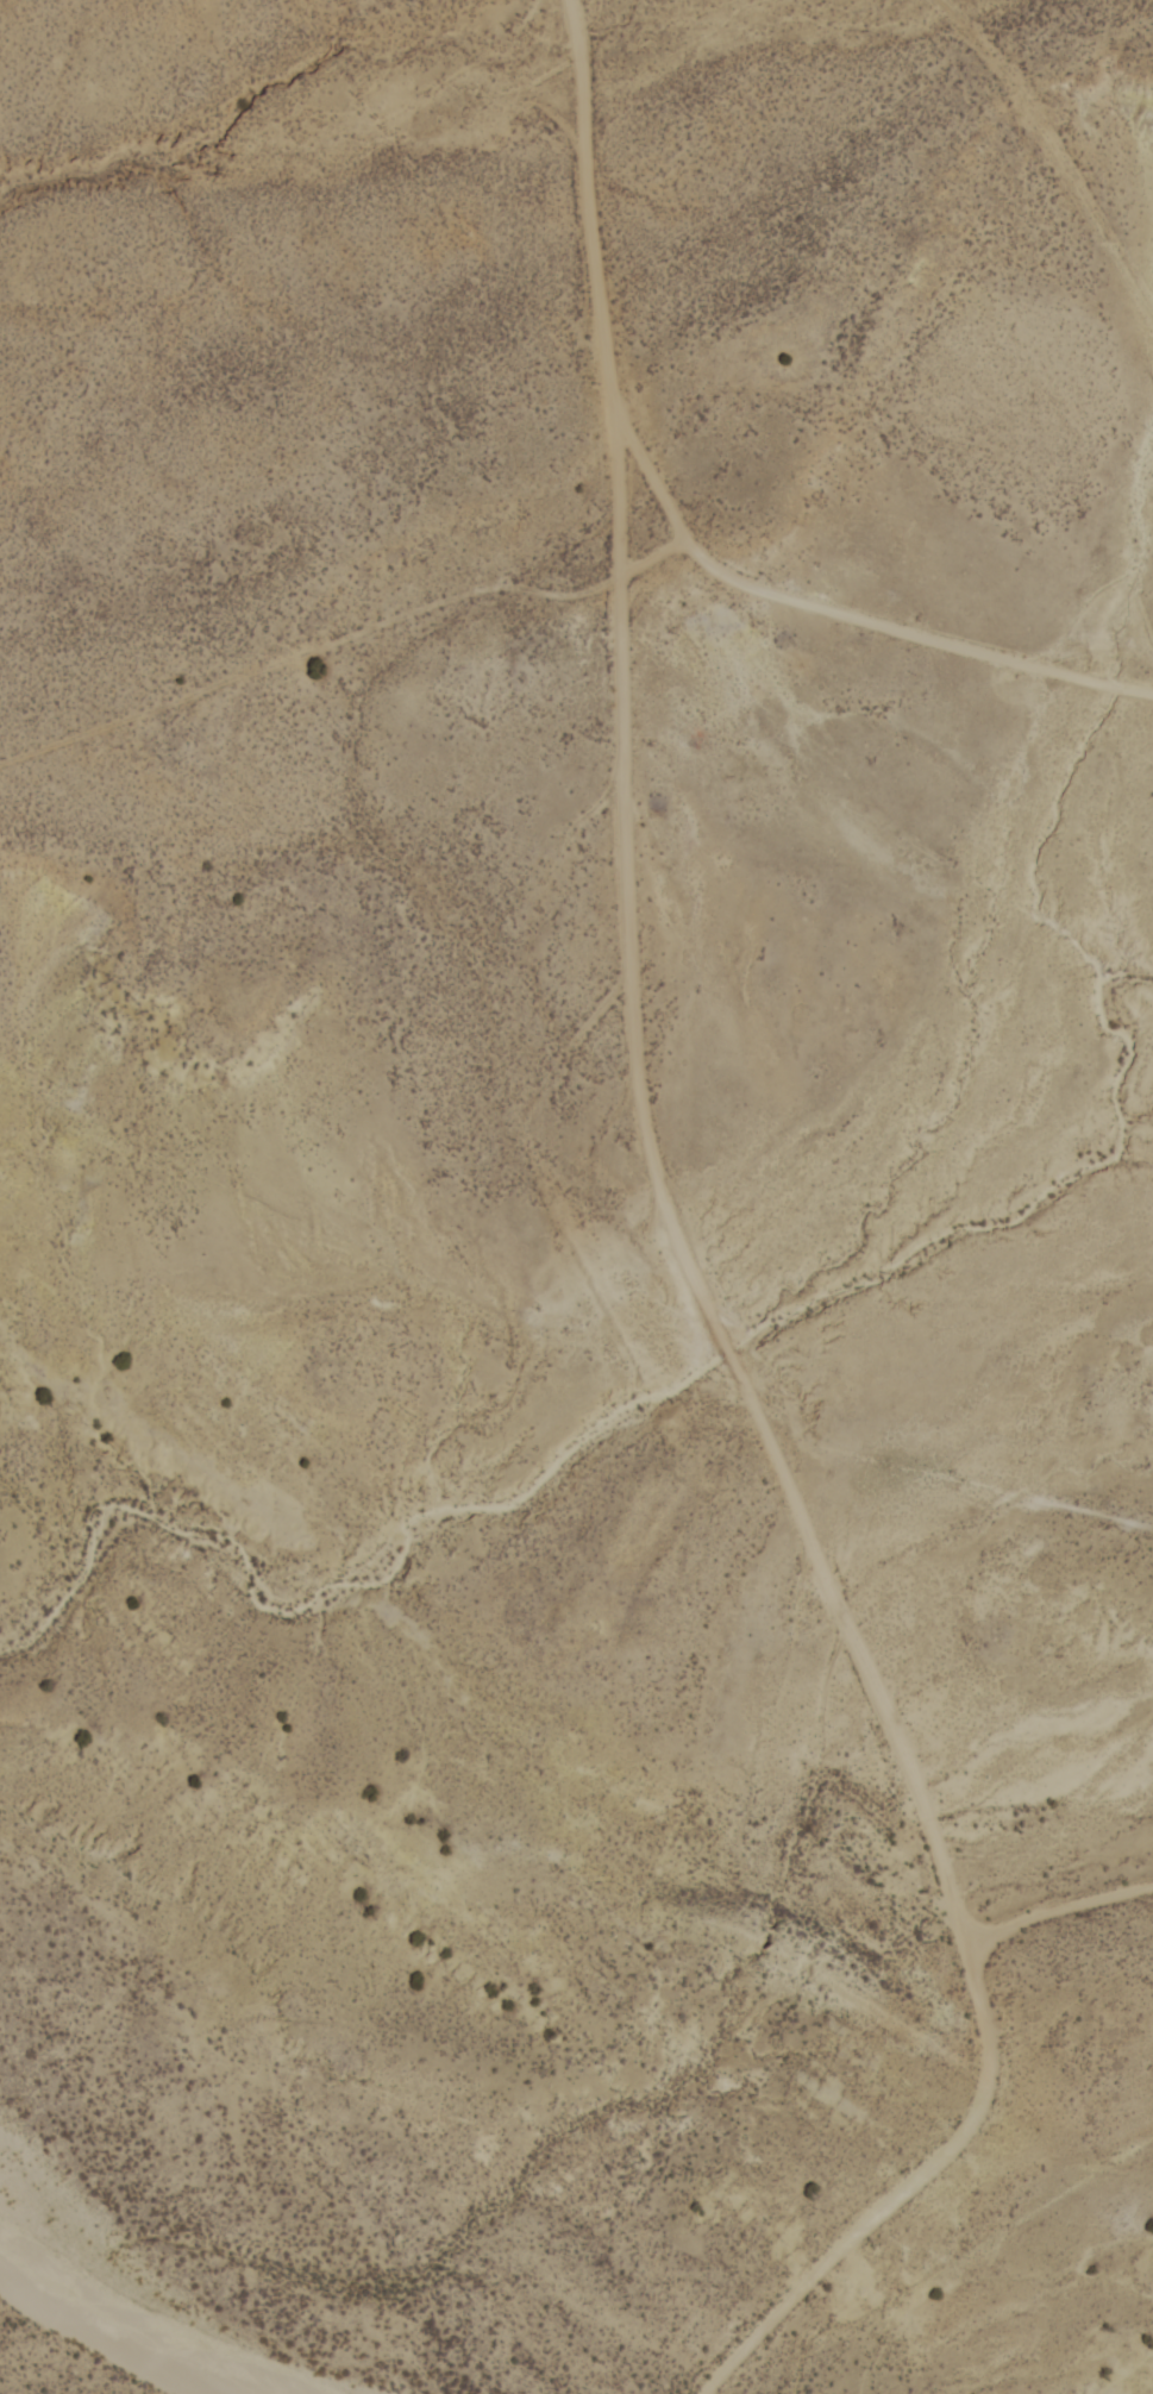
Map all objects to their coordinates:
road: (682, 488)
river: (123, 2323)

